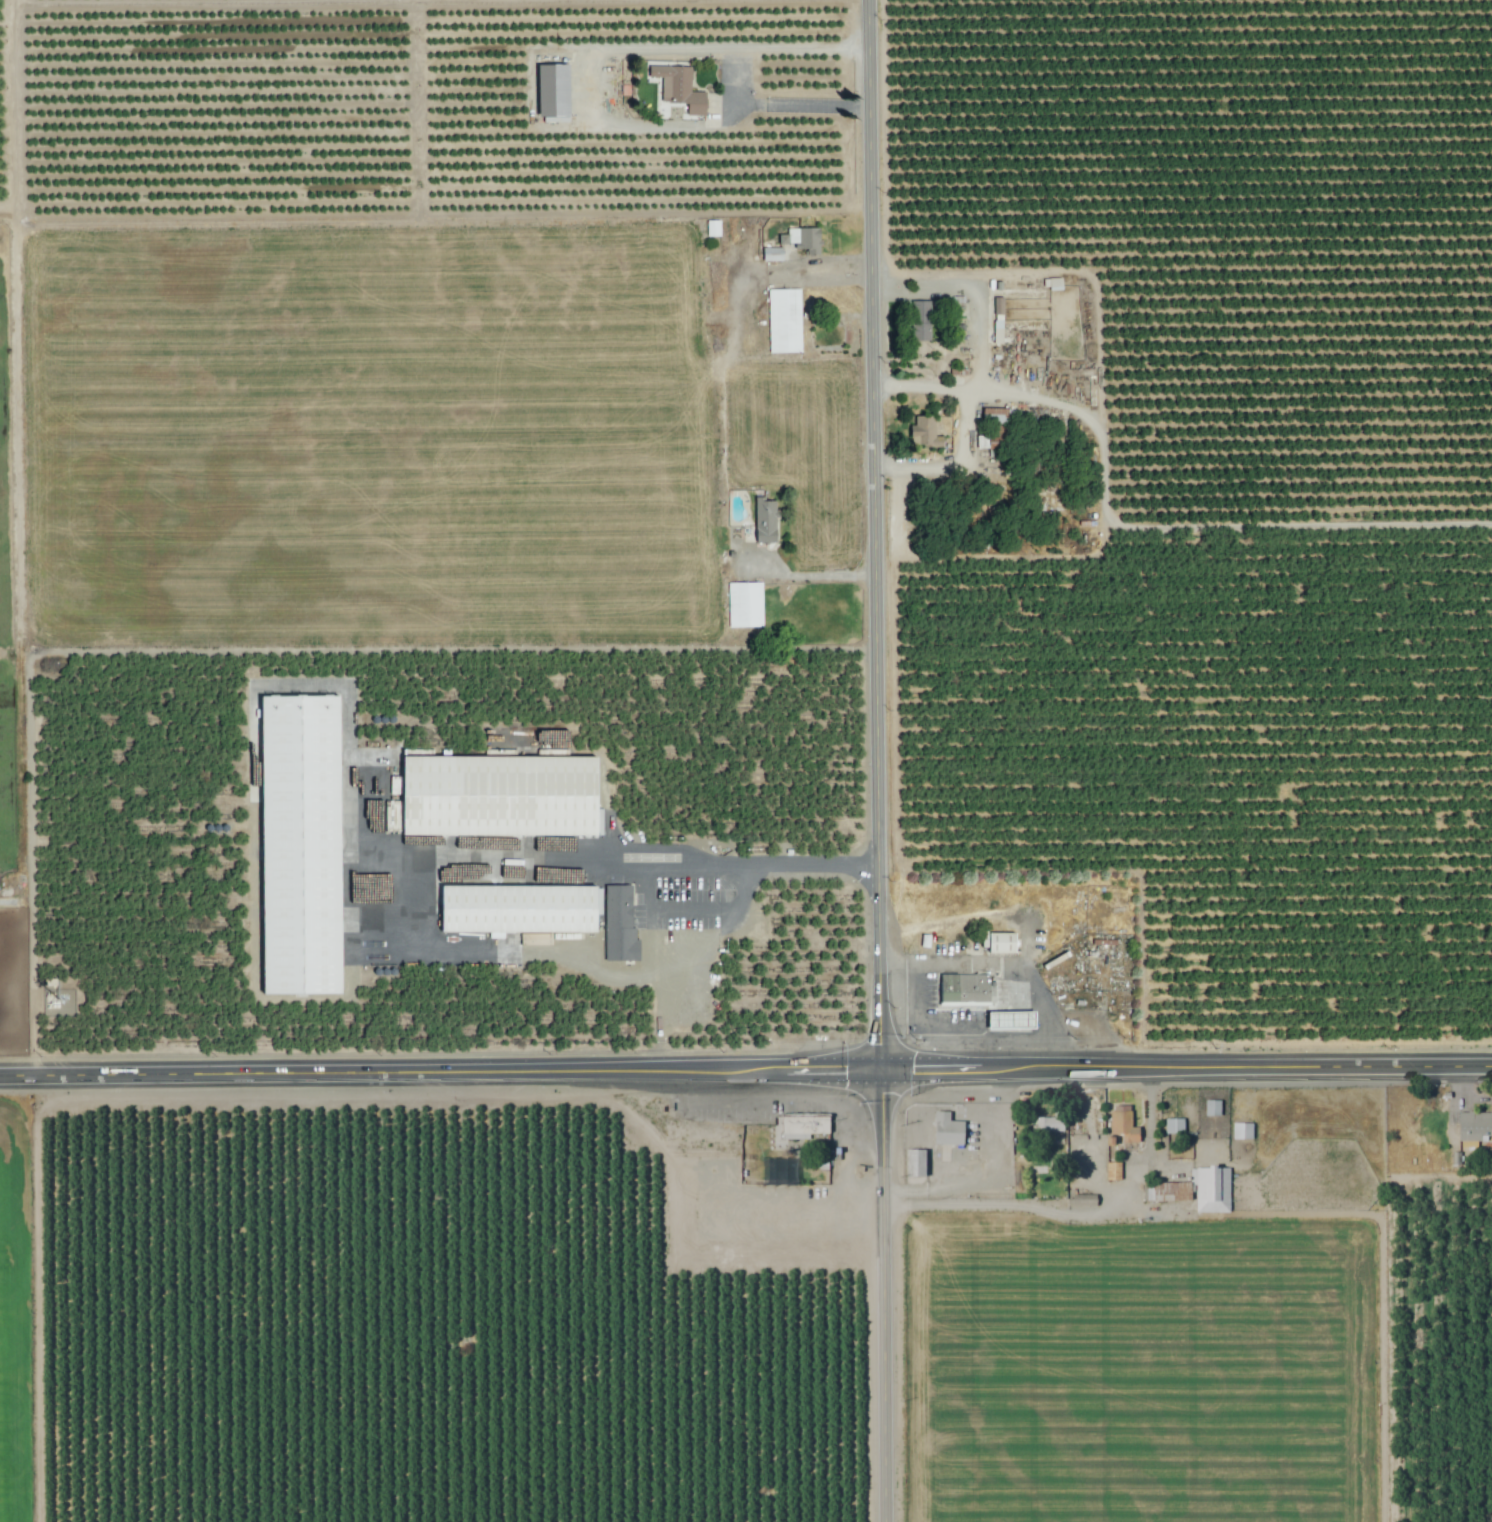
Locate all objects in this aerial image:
road: (632, 53)
road: (745, 79)
building: (678, 90)
road: (806, 107)
building: (802, 240)
building: (772, 256)
road: (790, 270)
building: (785, 321)
building: (921, 321)
building: (998, 330)
road: (982, 337)
building: (924, 433)
building: (997, 433)
road: (953, 463)
building: (762, 525)
road: (1189, 528)
road: (873, 533)
road: (811, 575)
building: (746, 606)
building: (498, 798)
building: (303, 848)
road: (638, 868)
road: (691, 910)
building: (544, 915)
building: (1000, 944)
road: (1010, 965)
building: (963, 990)
road: (918, 1022)
building: (1010, 1022)
road: (1020, 1041)
traffic signals: (879, 1067)
road: (745, 1068)
building: (1211, 1108)
building: (1120, 1122)
building: (1048, 1126)
building: (1474, 1126)
building: (945, 1130)
building: (1241, 1131)
building: (792, 1151)
building: (913, 1163)
building: (1074, 1165)
building: (1112, 1171)
building: (1210, 1190)
road: (1002, 1200)
road: (883, 1294)

